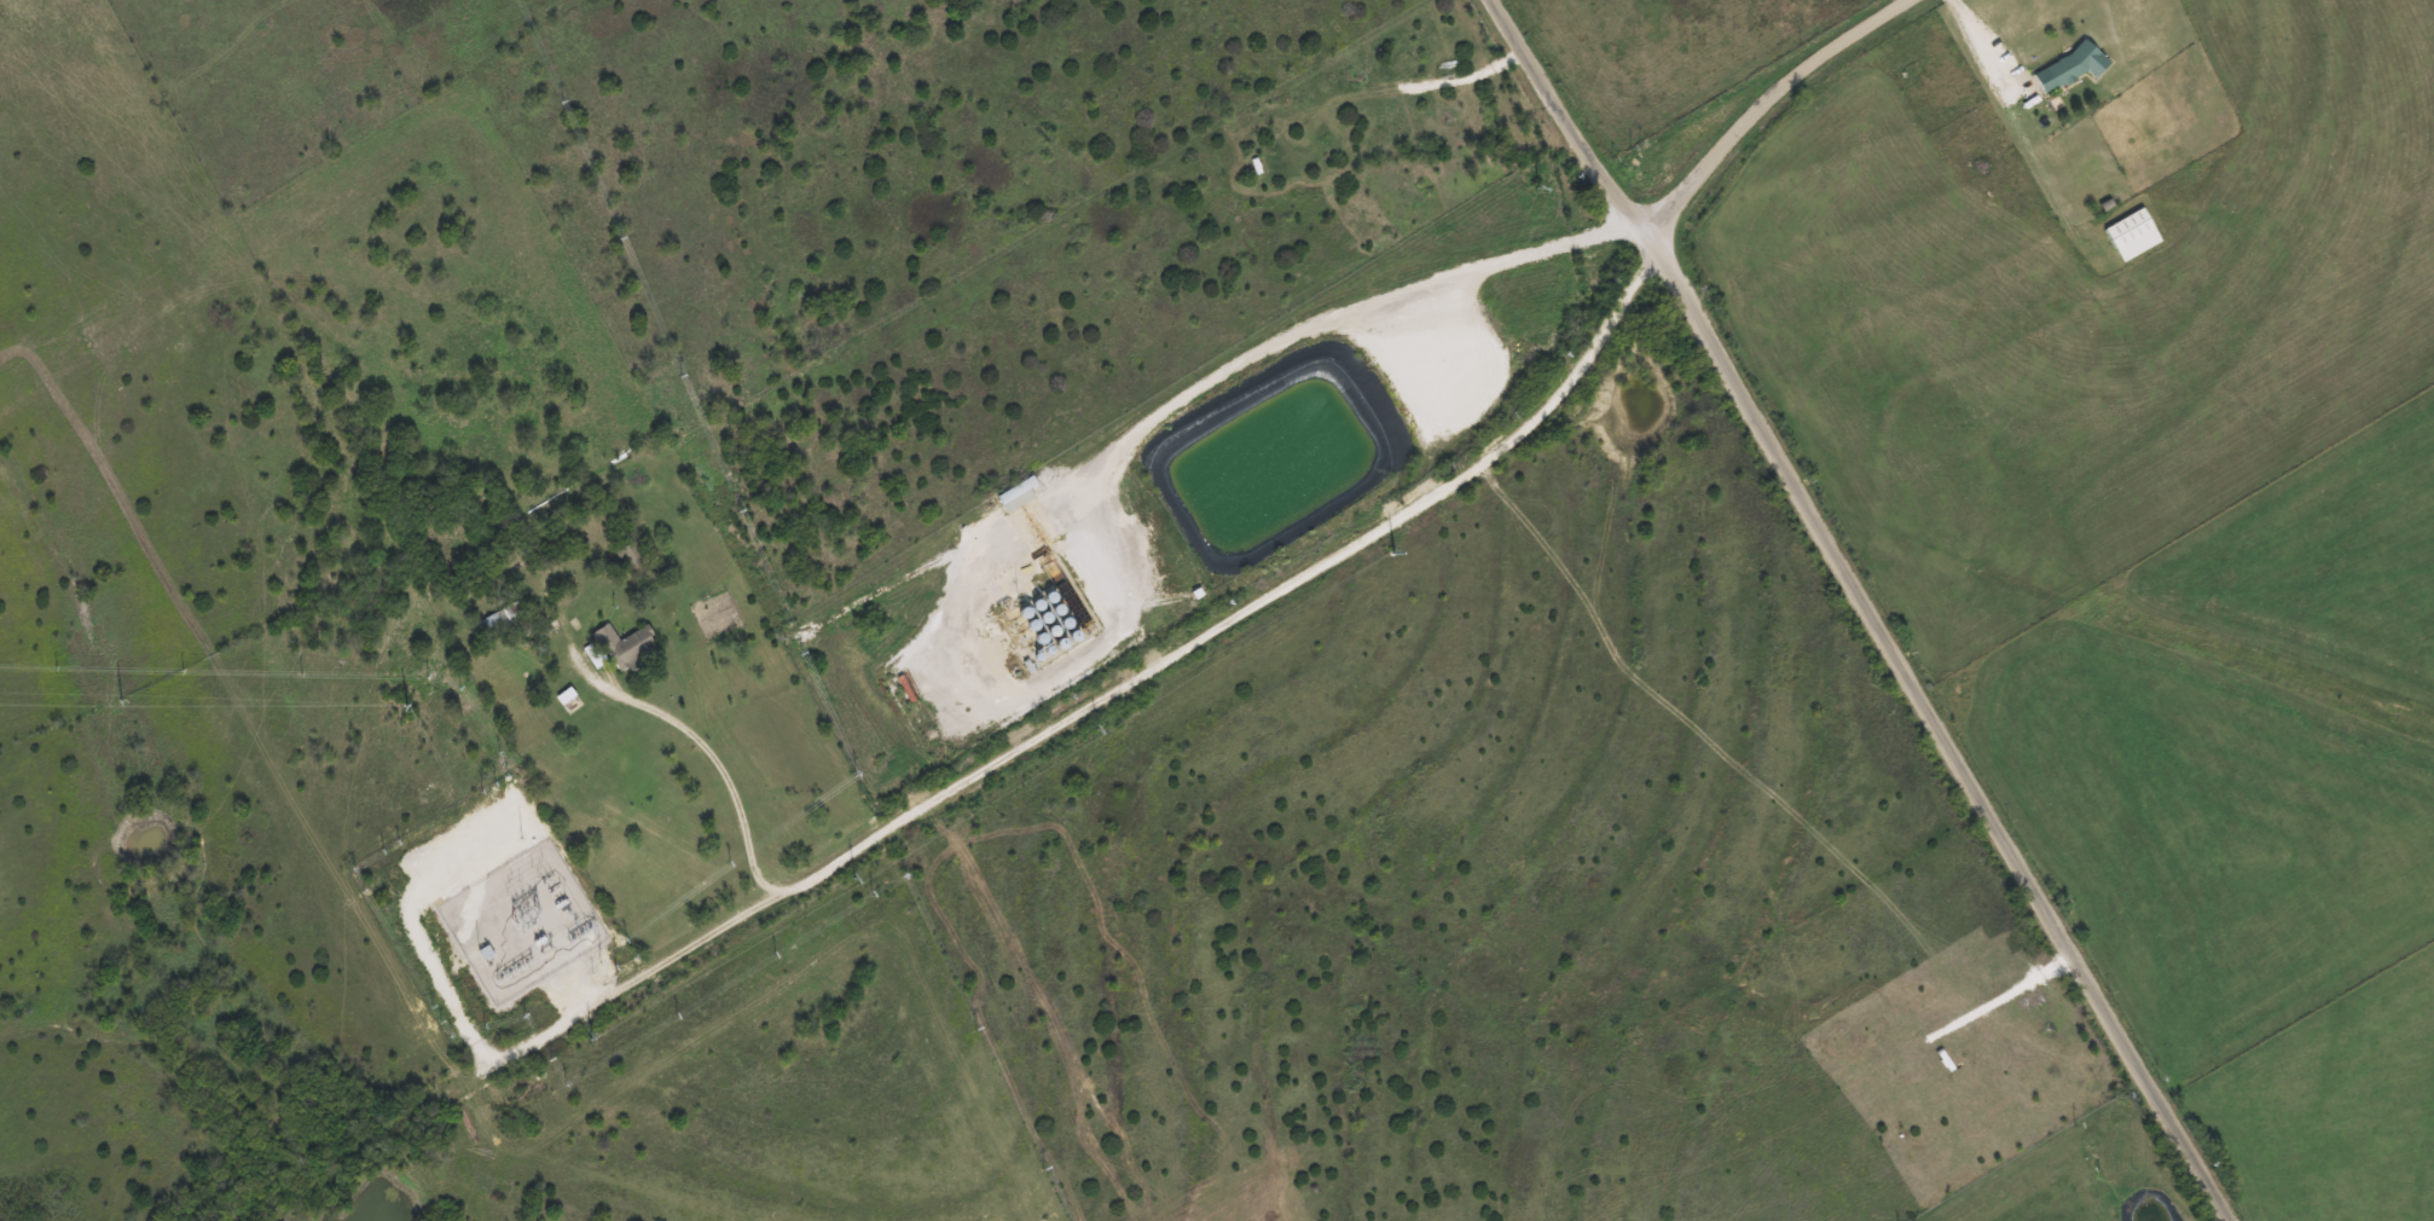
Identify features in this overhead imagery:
road: (1980, 40)
building: (2065, 66)
road: (1470, 80)
road: (1771, 105)
building: (2128, 235)
road: (1193, 394)
building: (1010, 497)
building: (628, 559)
road: (1252, 597)
road: (1872, 606)
building: (622, 647)
road: (712, 765)
power substation: (520, 922)
road: (502, 1054)

